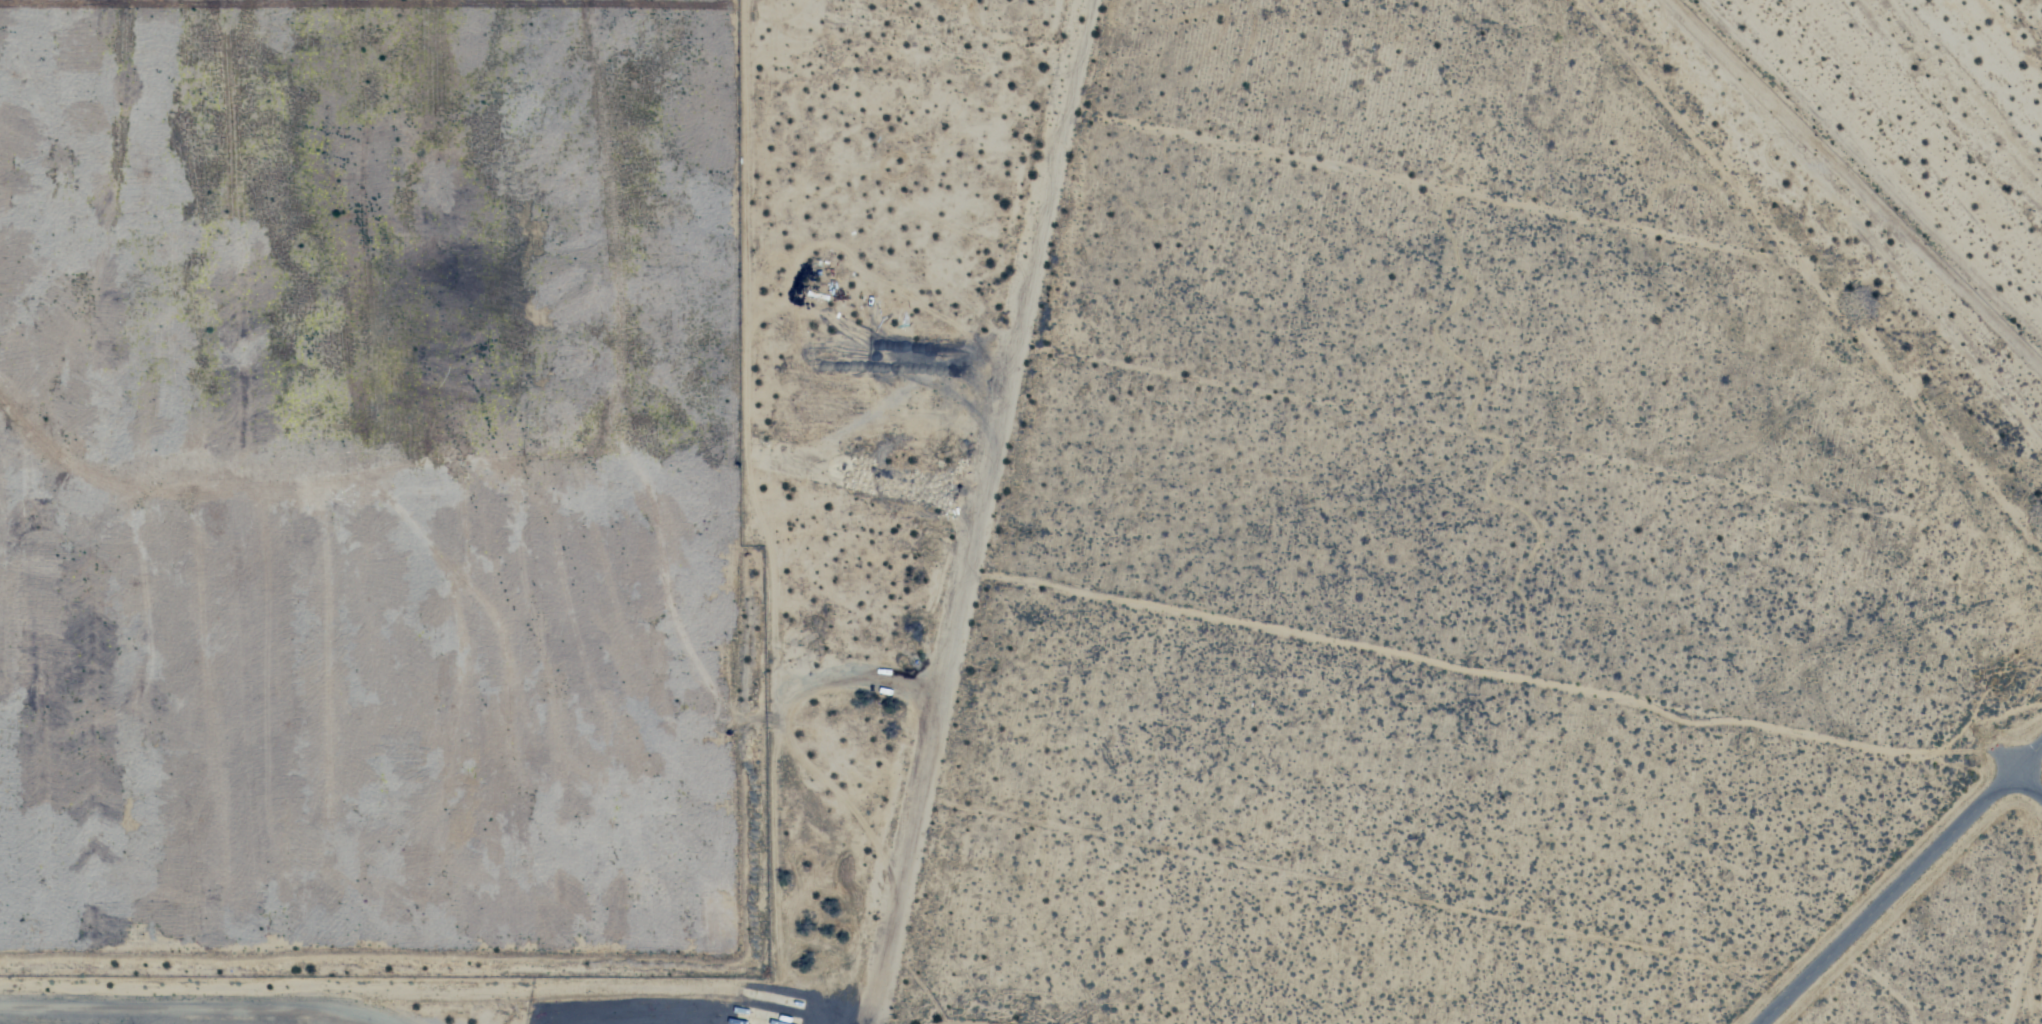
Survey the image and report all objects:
road: (2018, 756)
road: (2019, 766)
road: (2012, 767)
road: (2031, 769)
road: (2002, 771)
road: (1896, 888)

